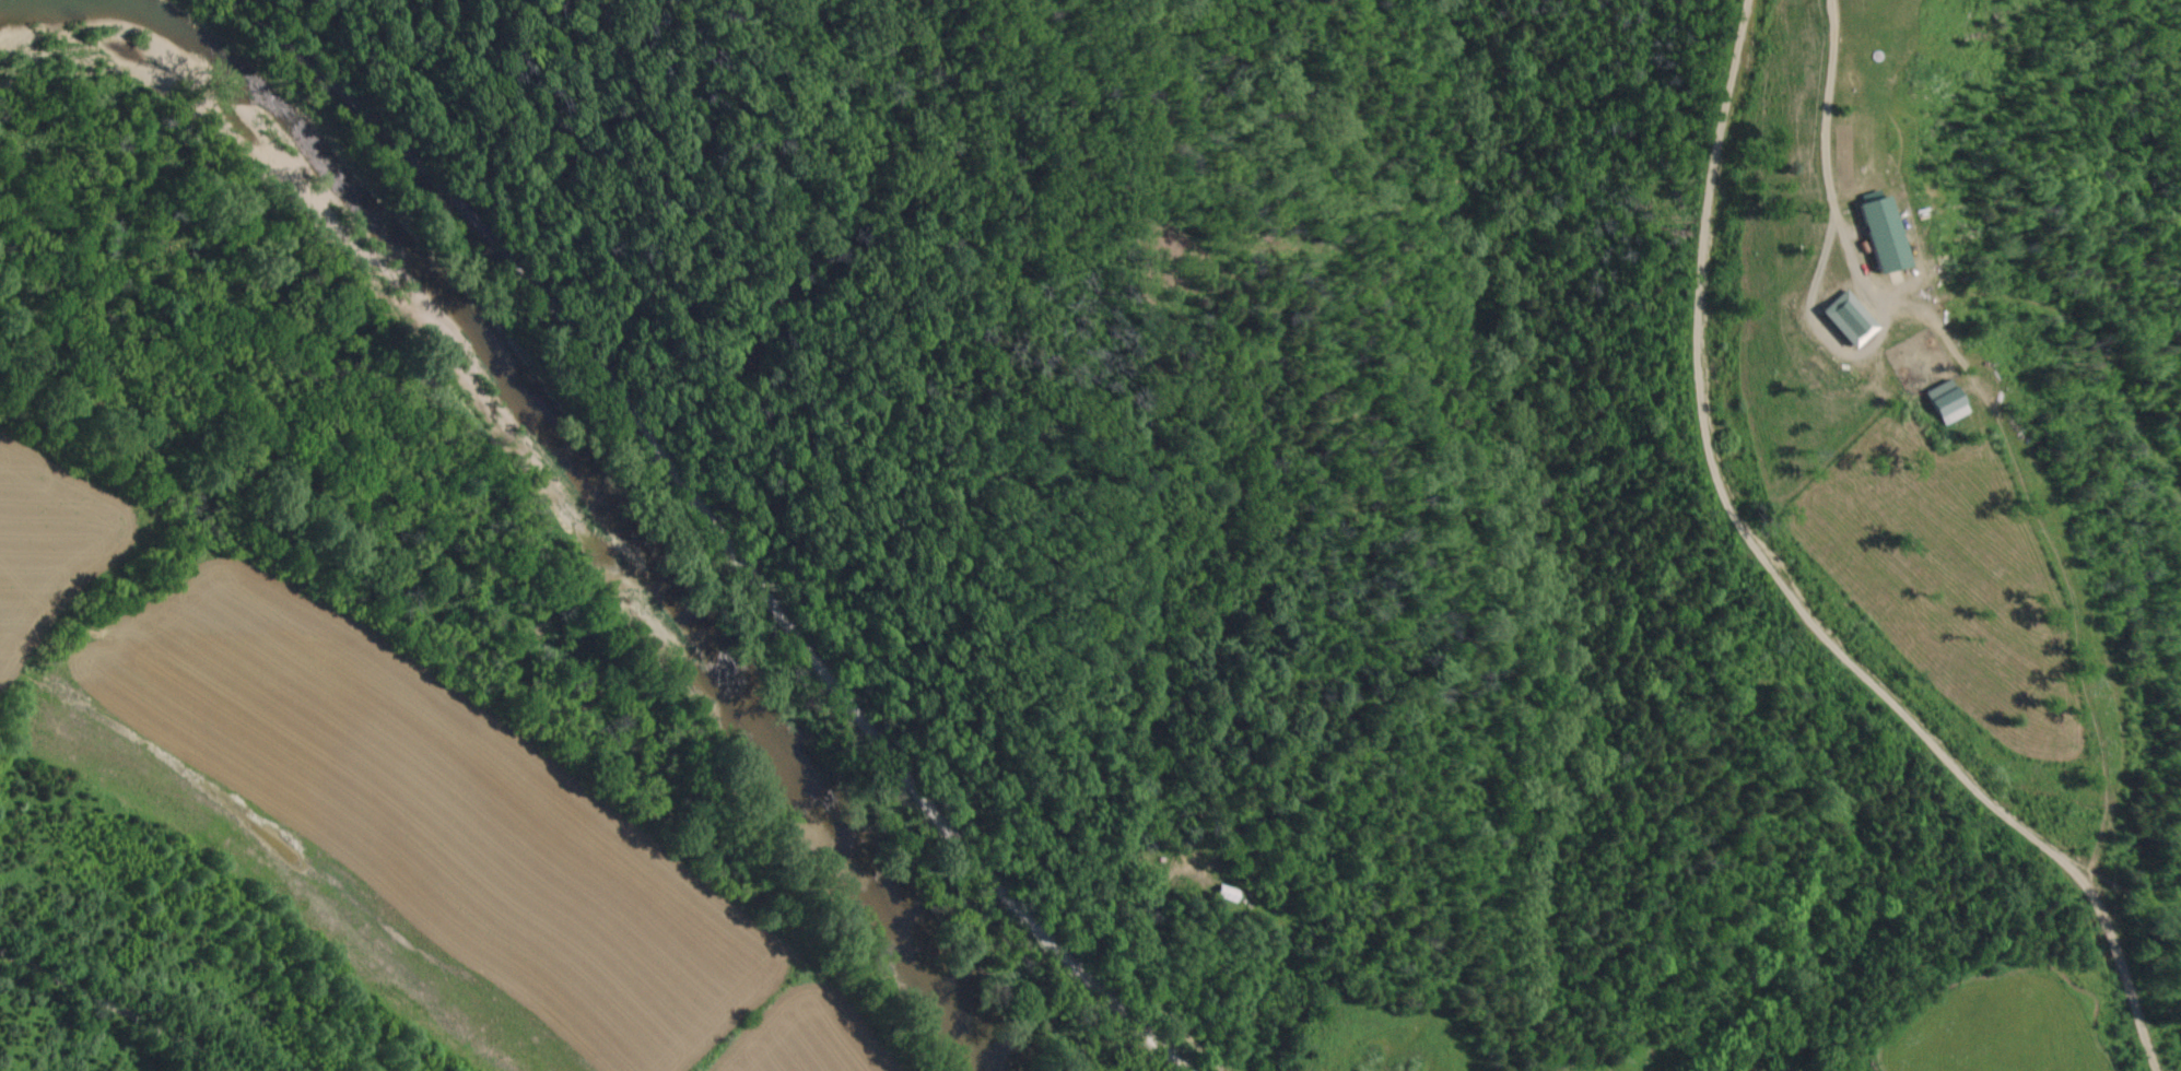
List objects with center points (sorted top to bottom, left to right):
building: (1878, 236)
building: (1845, 320)
building: (1943, 403)
river: (583, 508)
road: (688, 532)
crop: (324, 839)
road: (121, 1007)
crop: (2014, 1024)

